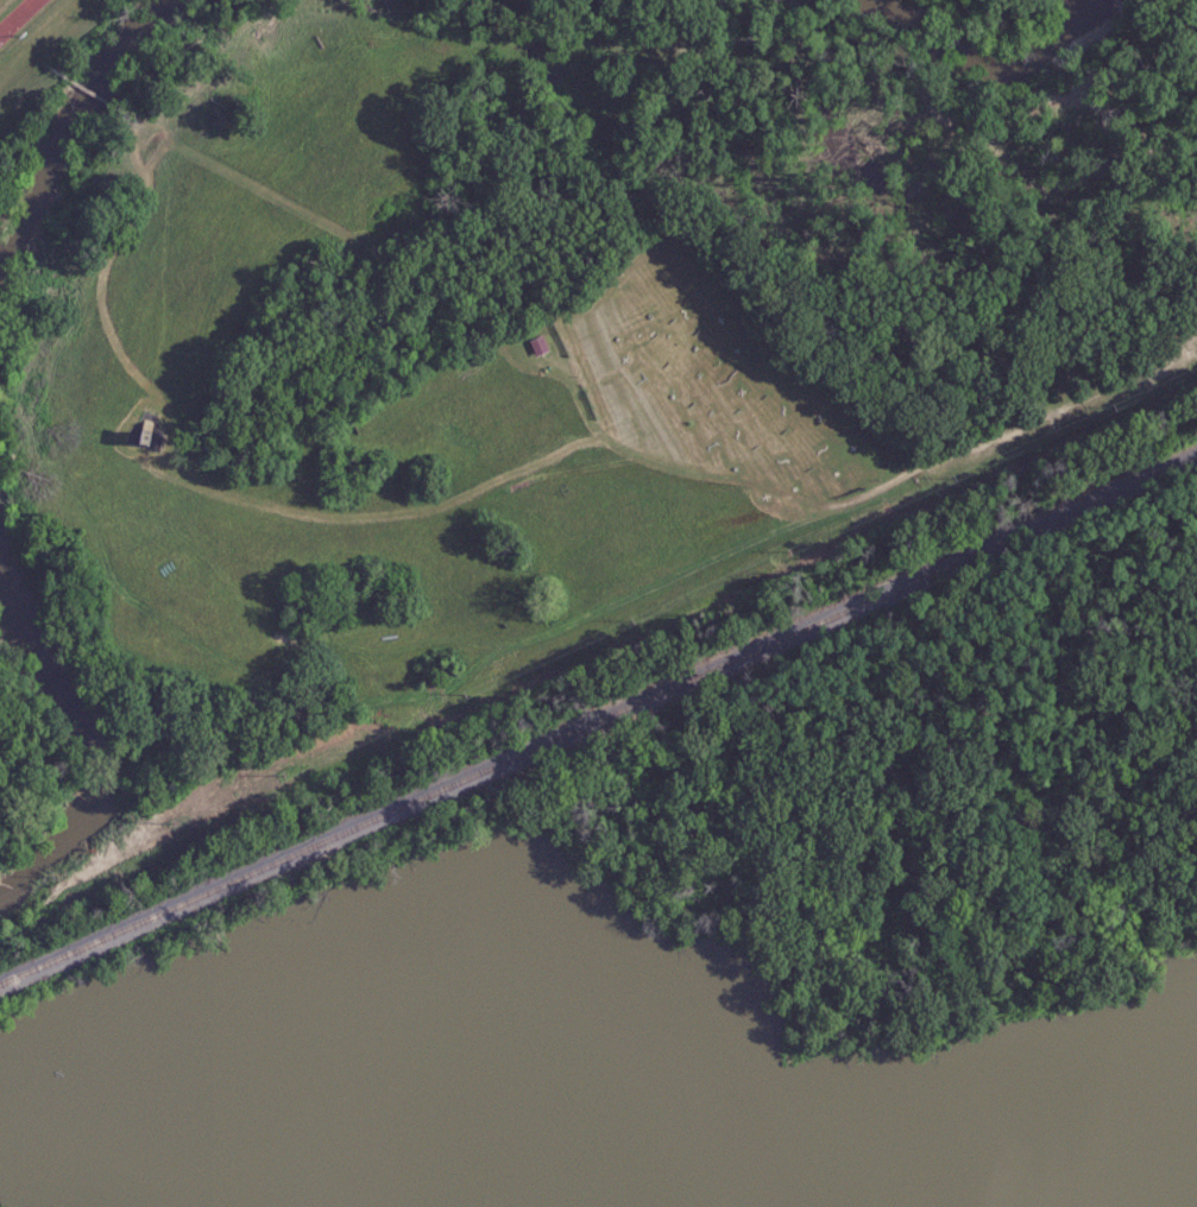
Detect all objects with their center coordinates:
track: (15, 15)
road: (988, 436)
railway: (598, 718)

